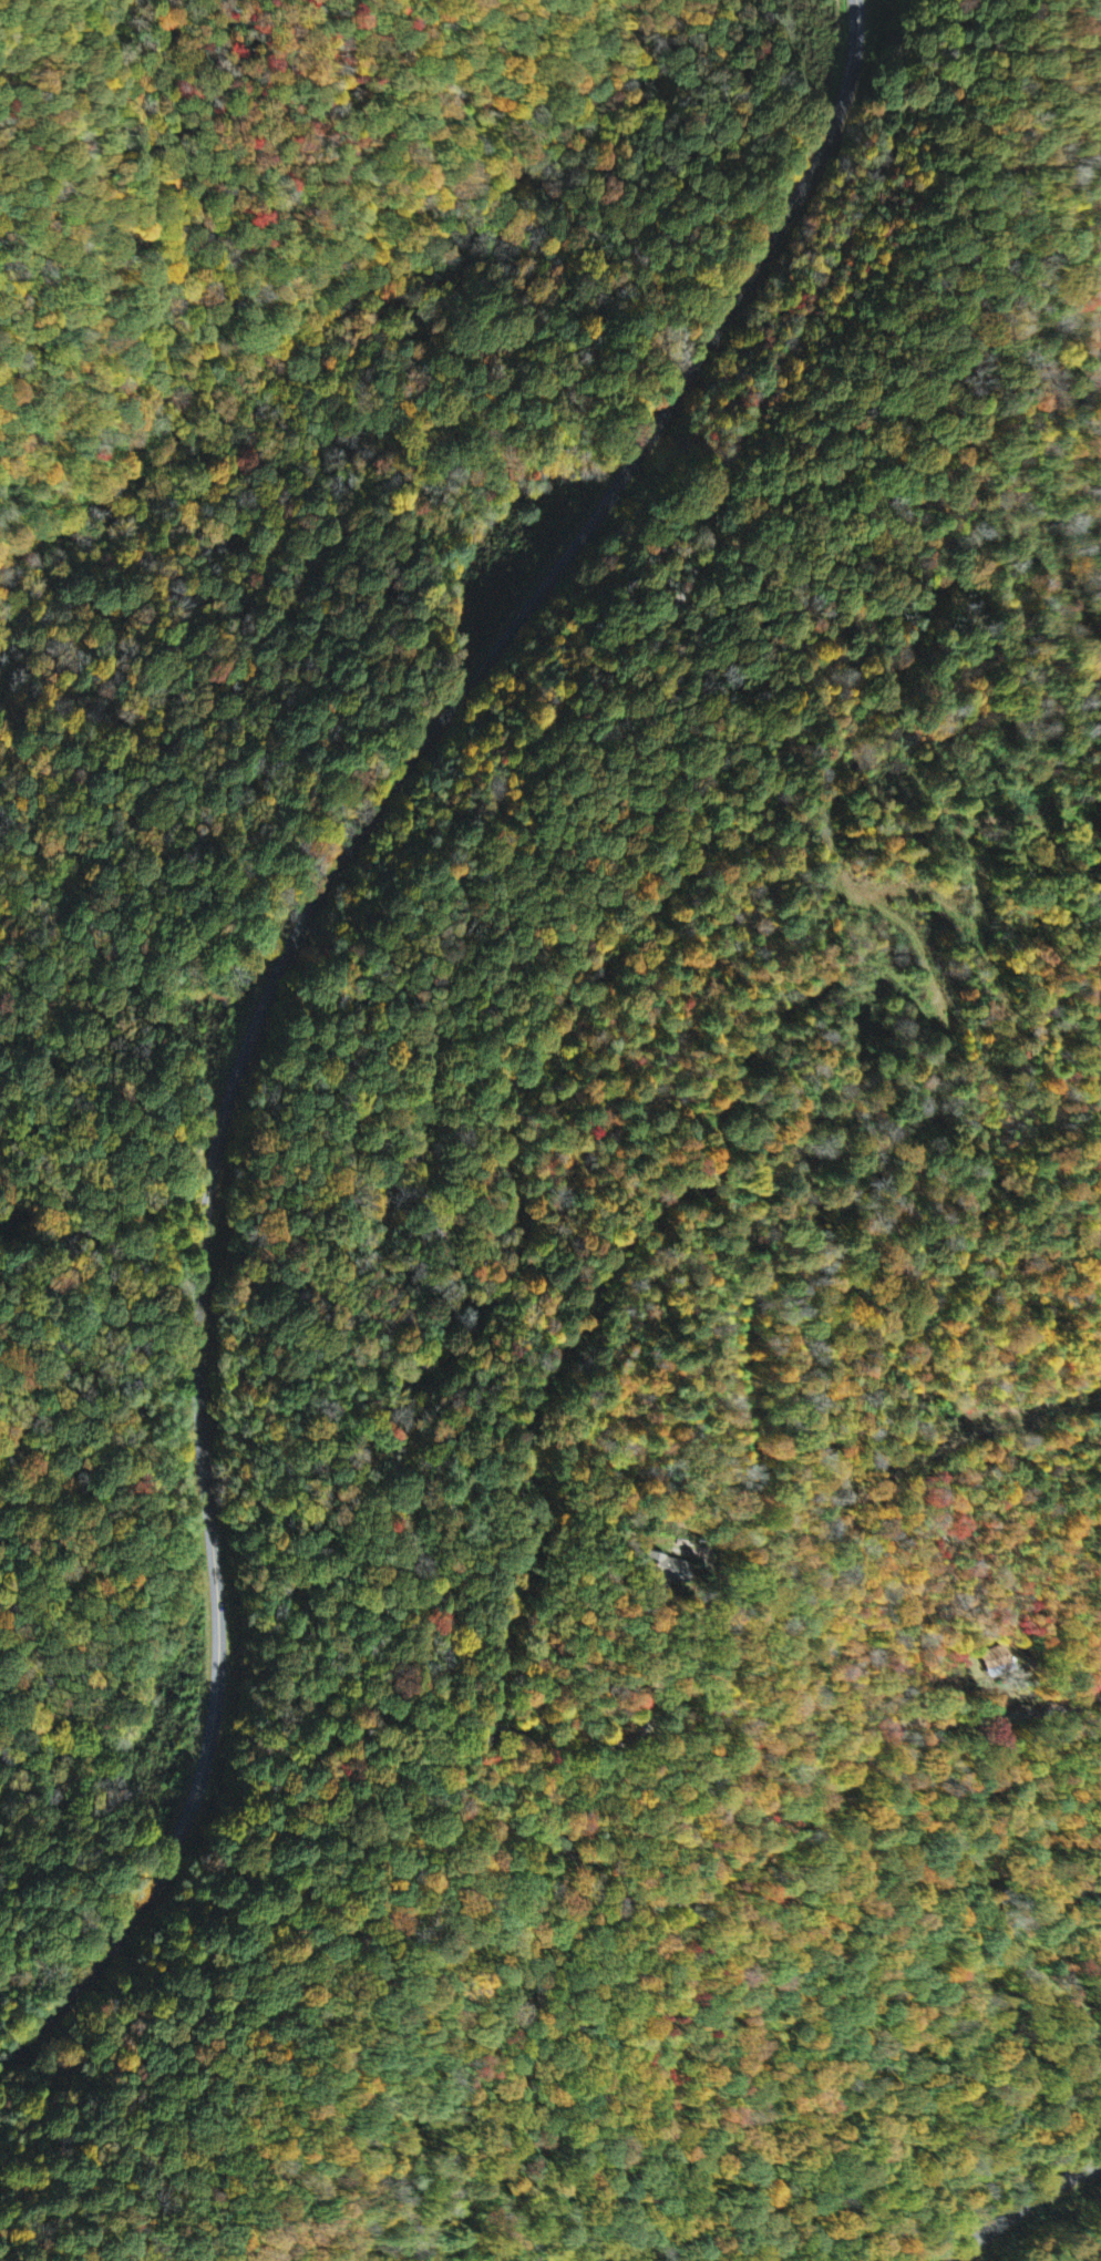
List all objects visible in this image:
road: (274, 987)
road: (432, 1199)
building: (999, 1663)
road: (566, 1747)
road: (1023, 2207)

